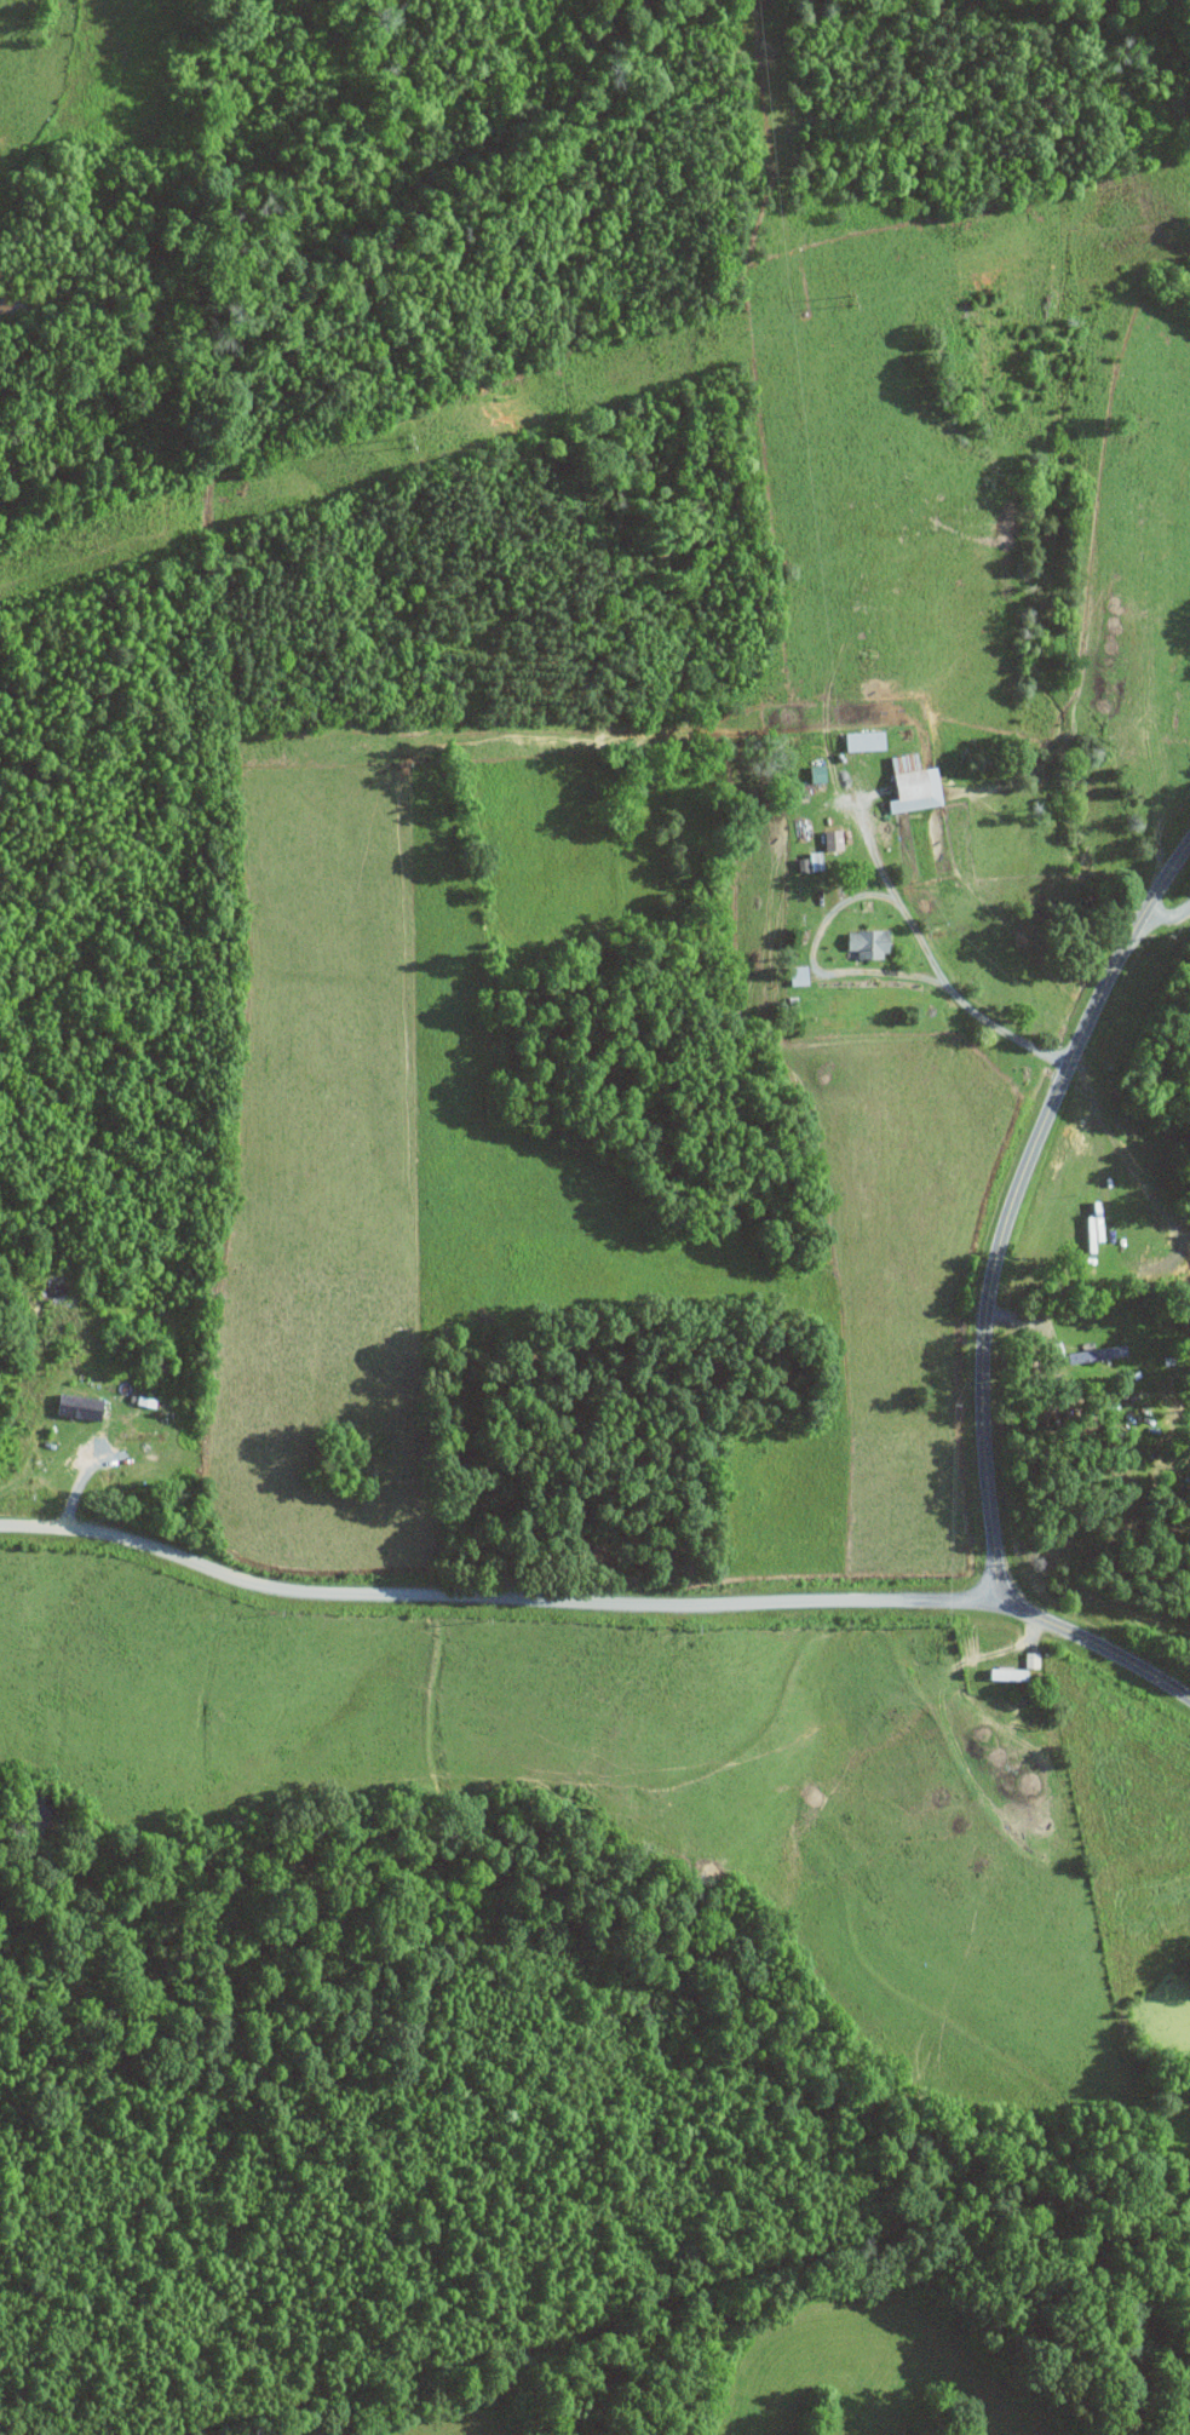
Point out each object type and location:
building: (868, 740)
building: (821, 773)
building: (918, 783)
building: (837, 839)
building: (818, 860)
road: (1166, 912)
building: (873, 942)
road: (931, 958)
road: (814, 963)
building: (801, 975)
road: (1119, 1149)
road: (1012, 1196)
building: (82, 1405)
building: (140, 1434)
road: (603, 1603)
building: (1034, 1658)
building: (1012, 1672)

